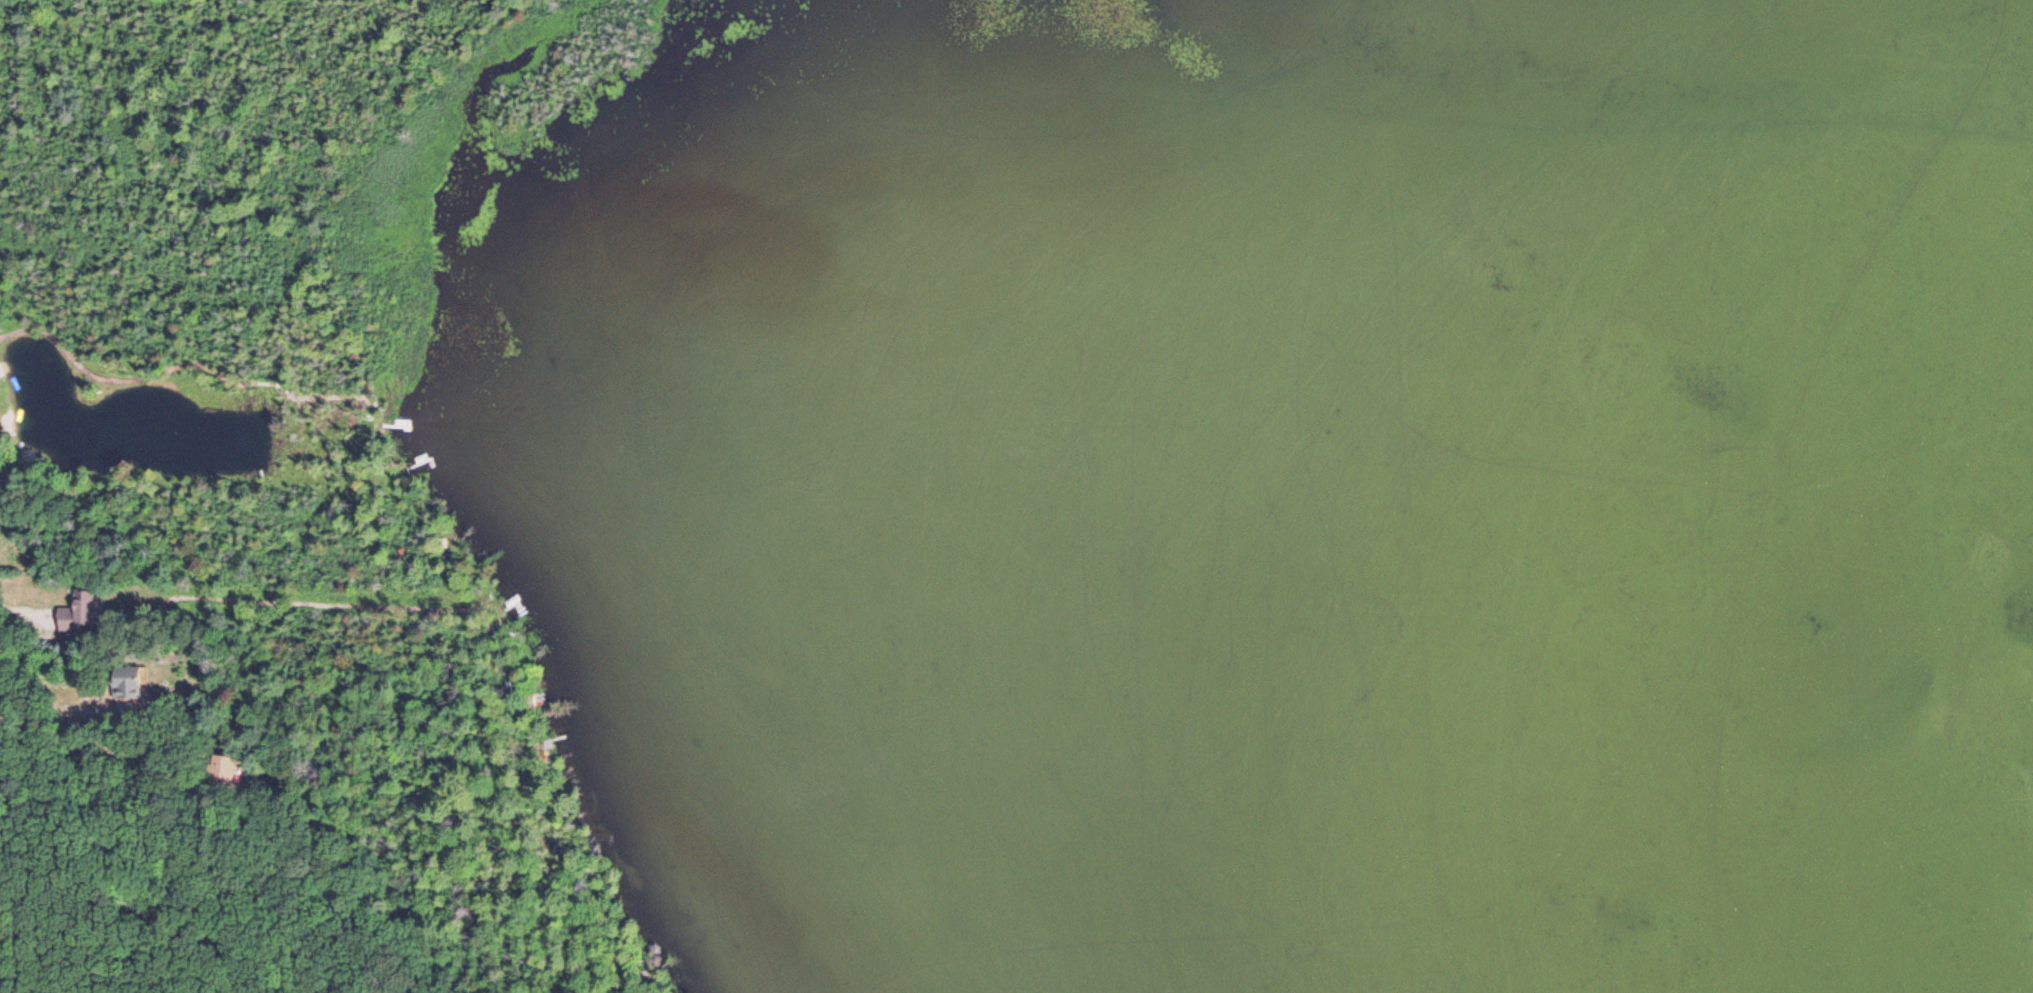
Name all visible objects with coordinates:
building: (127, 684)
building: (223, 770)

